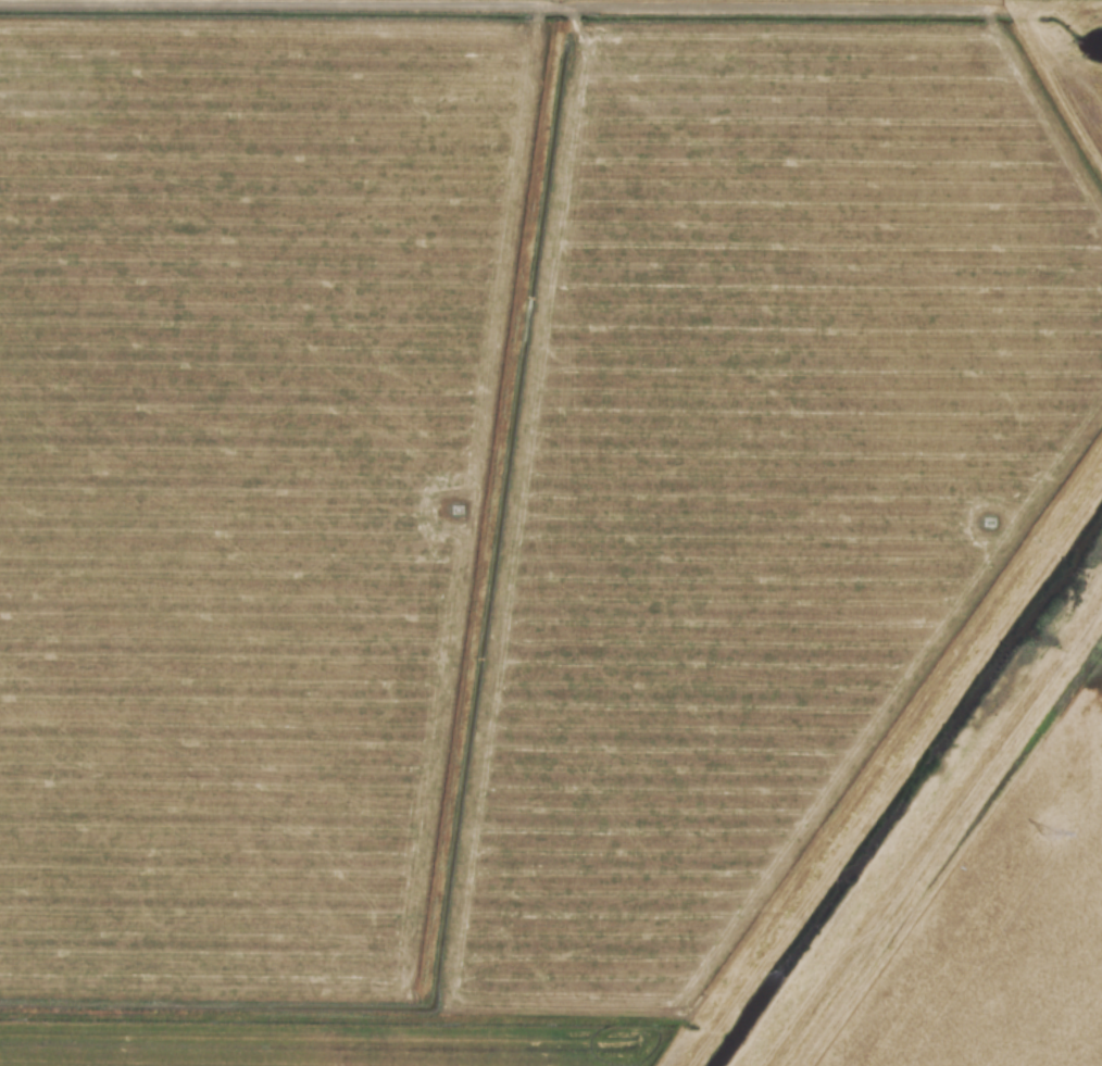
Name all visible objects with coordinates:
power tower: (1043, 837)

